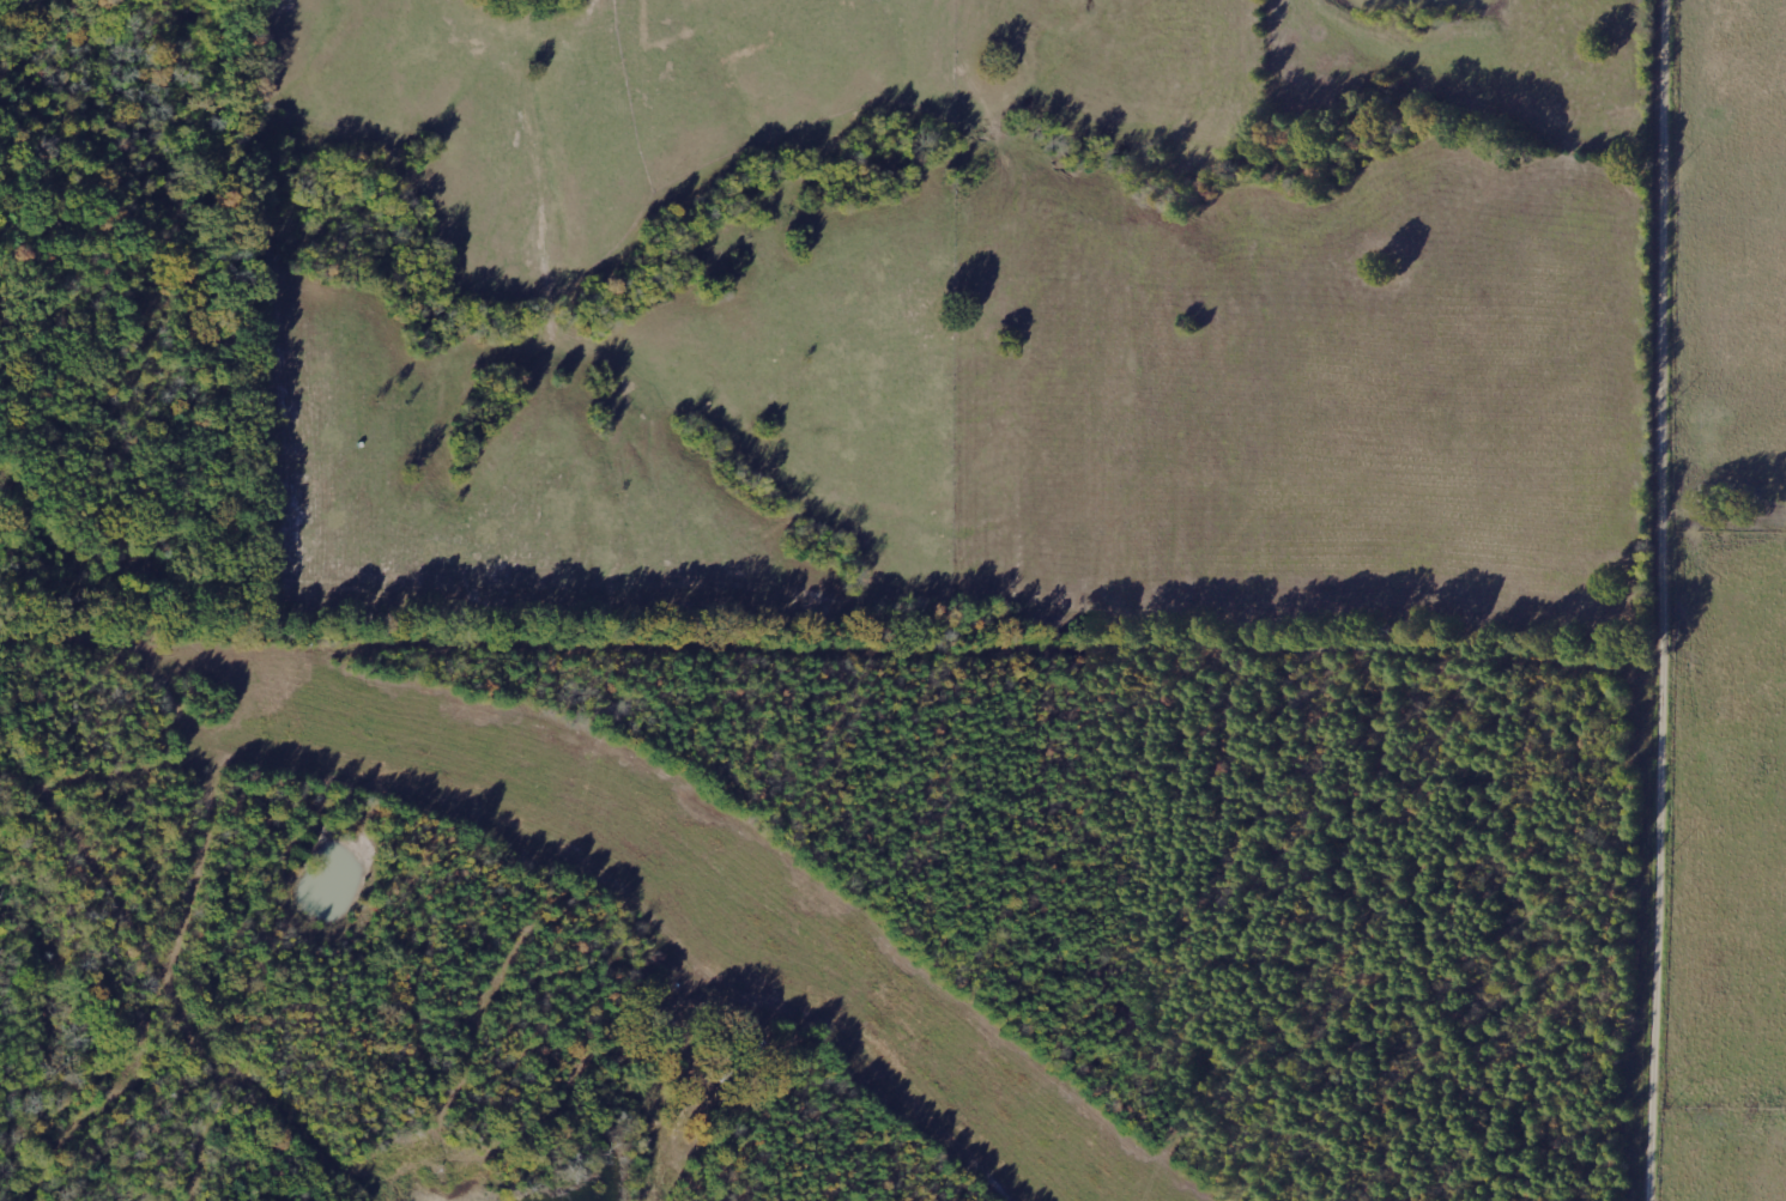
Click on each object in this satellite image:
road: (1673, 600)

